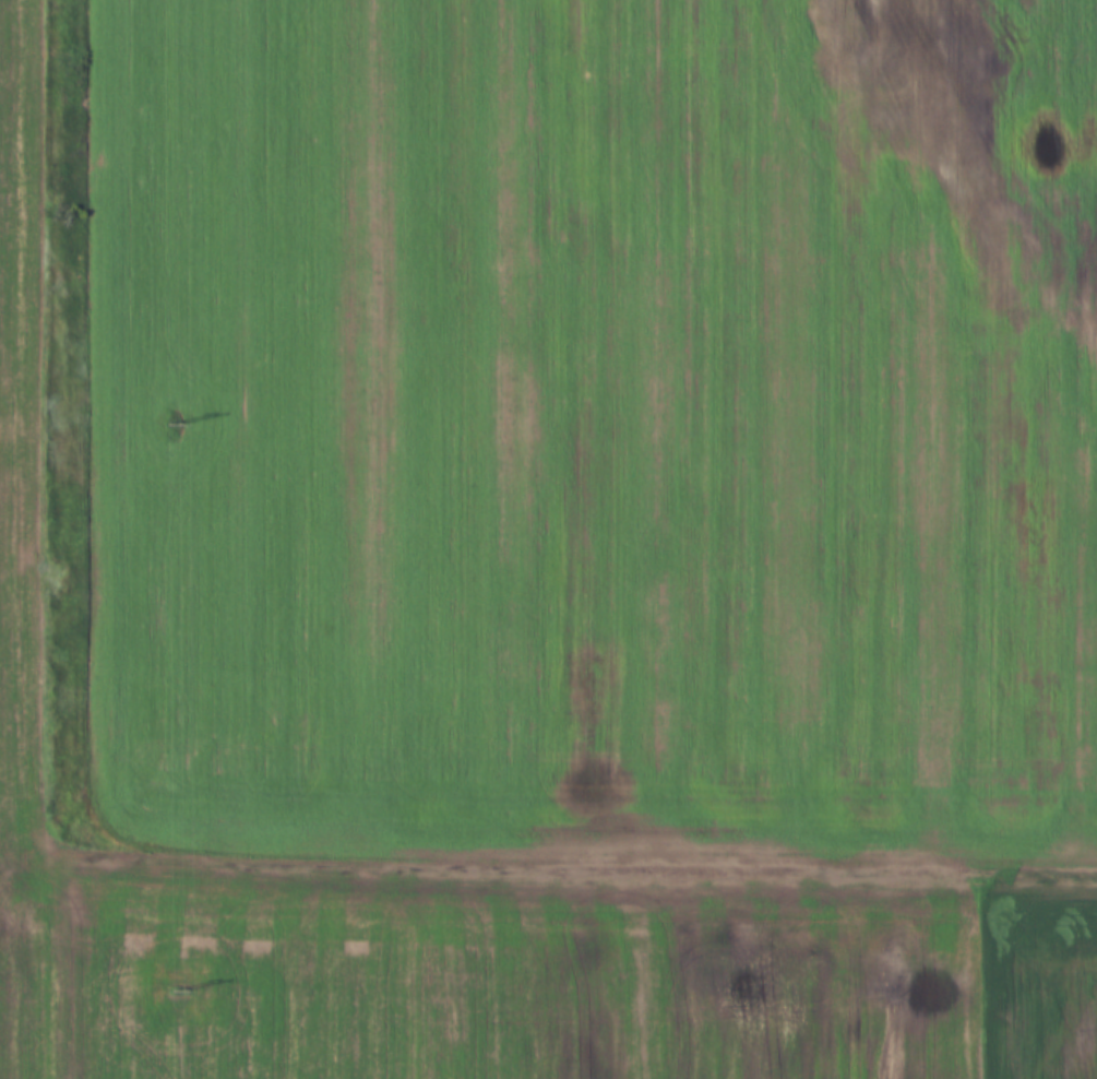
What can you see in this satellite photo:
power tower: (174, 422)
power tower: (177, 988)

